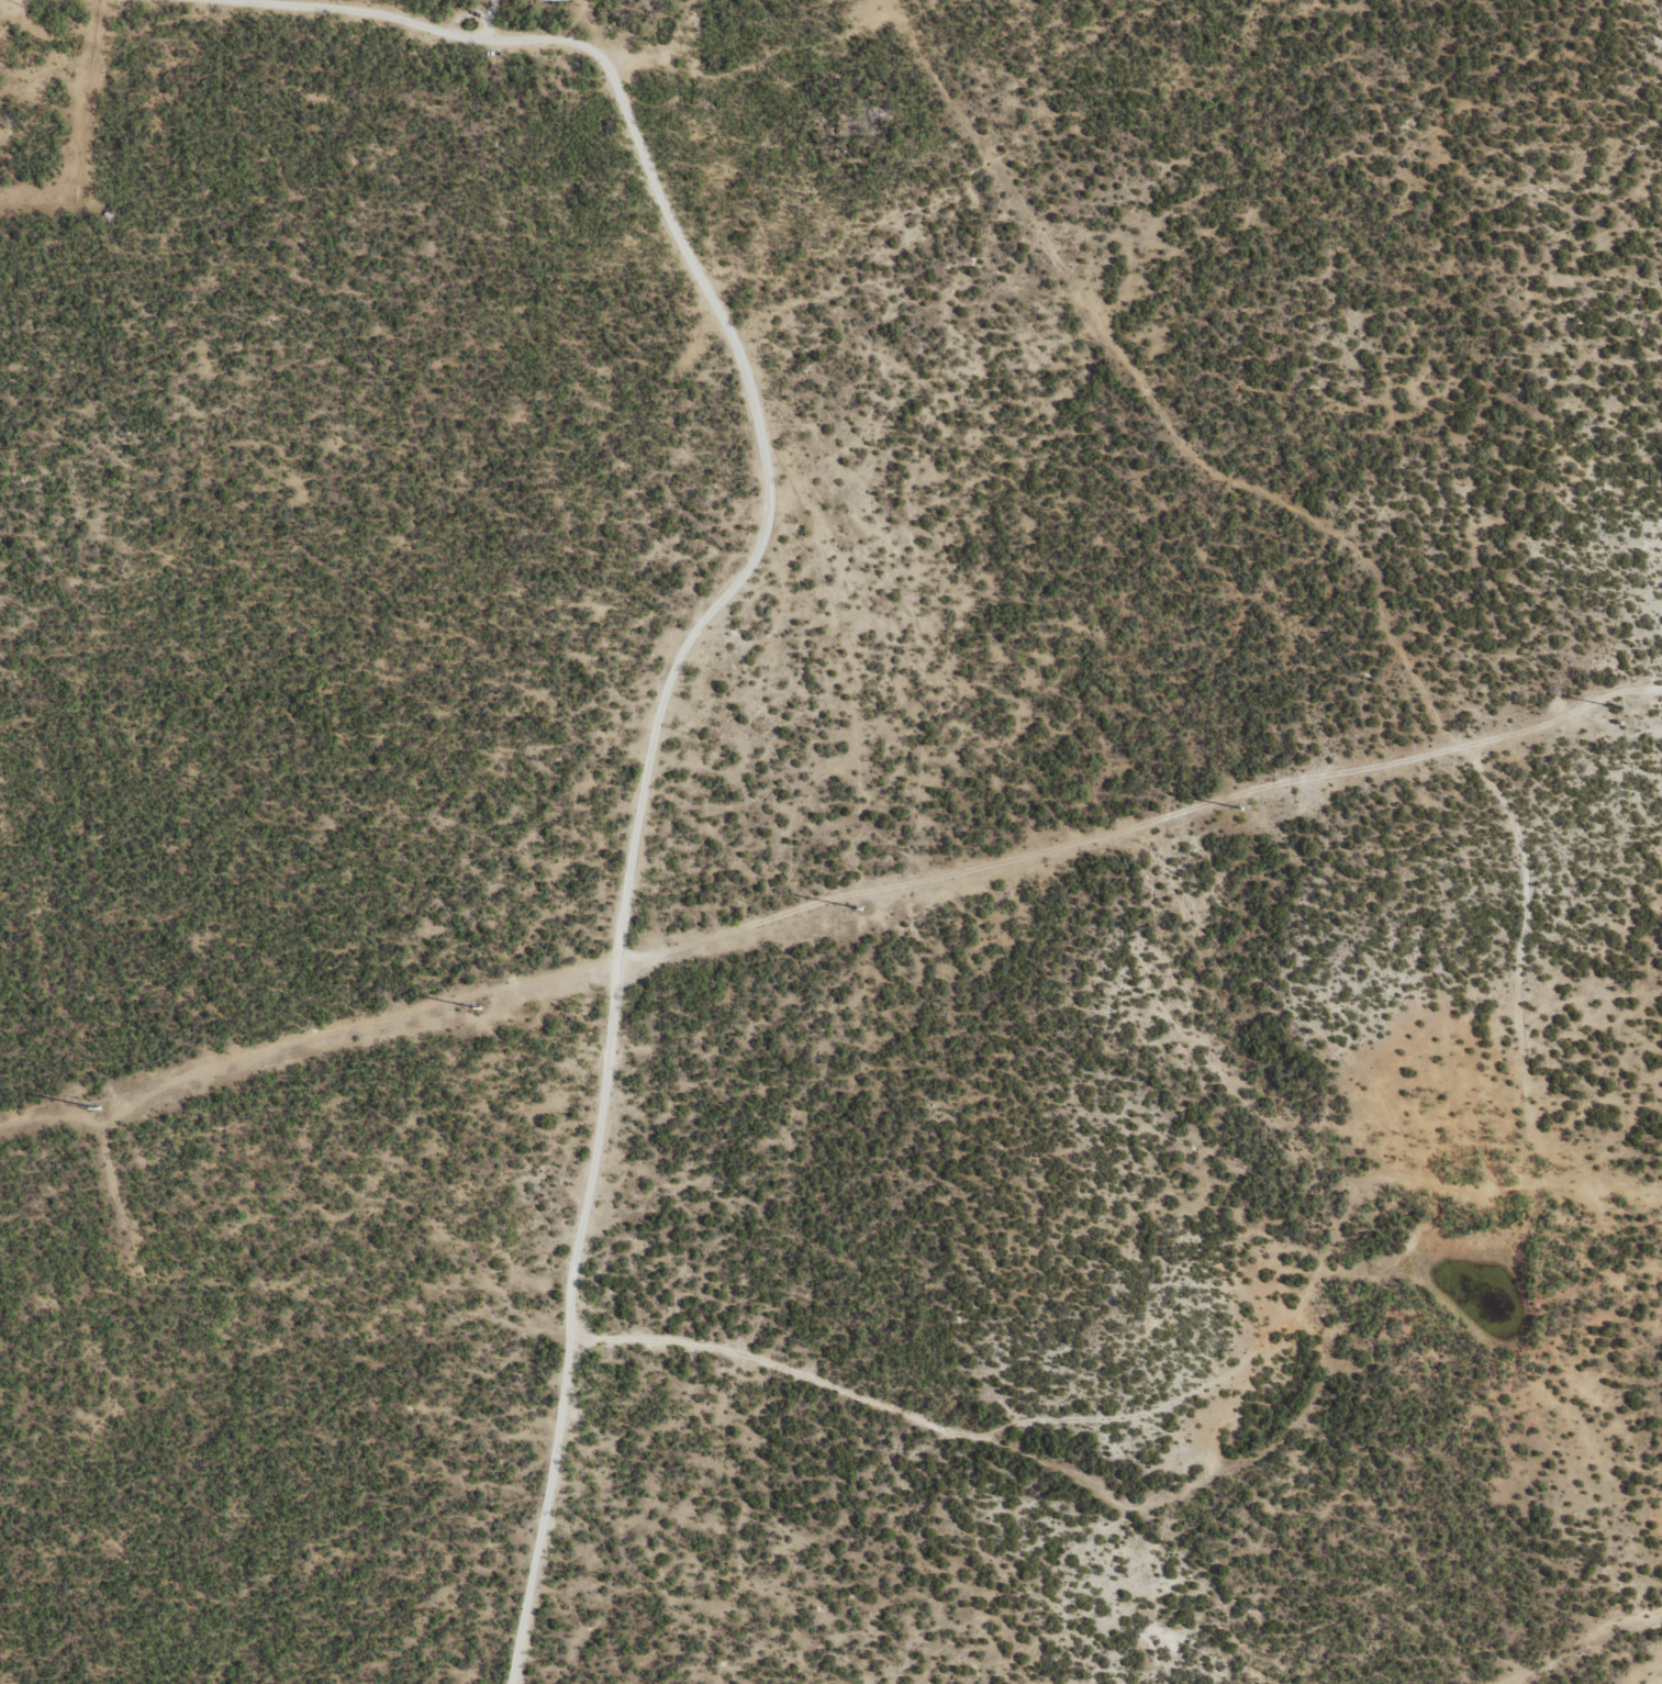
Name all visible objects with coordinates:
building: (536, 0)
road: (1112, 359)
power tower: (1610, 706)
power tower: (1238, 807)
road: (631, 845)
power tower: (858, 906)
power tower: (476, 1006)
power tower: (96, 1106)

